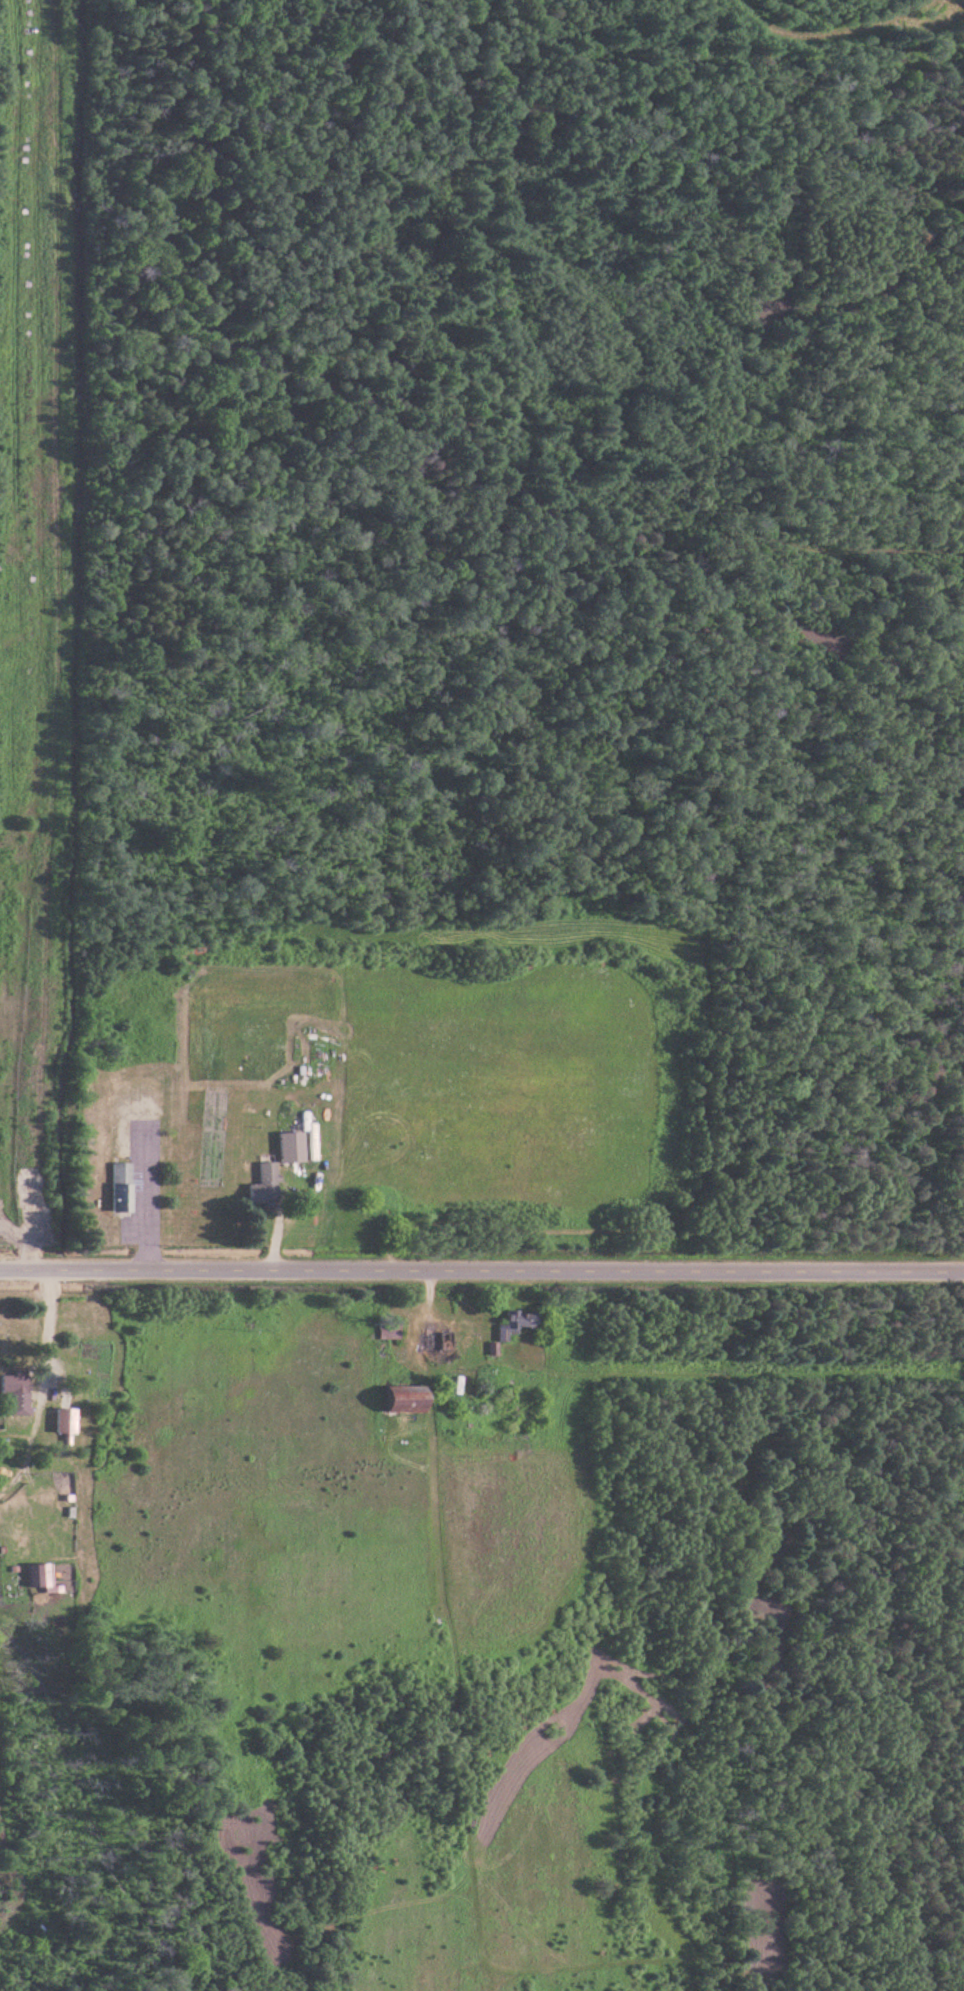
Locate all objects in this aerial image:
building: (266, 1186)
building: (123, 1190)
road: (481, 1269)
building: (519, 1324)
building: (392, 1330)
road: (44, 1385)
building: (18, 1392)
building: (406, 1398)
building: (67, 1420)
building: (44, 1574)

